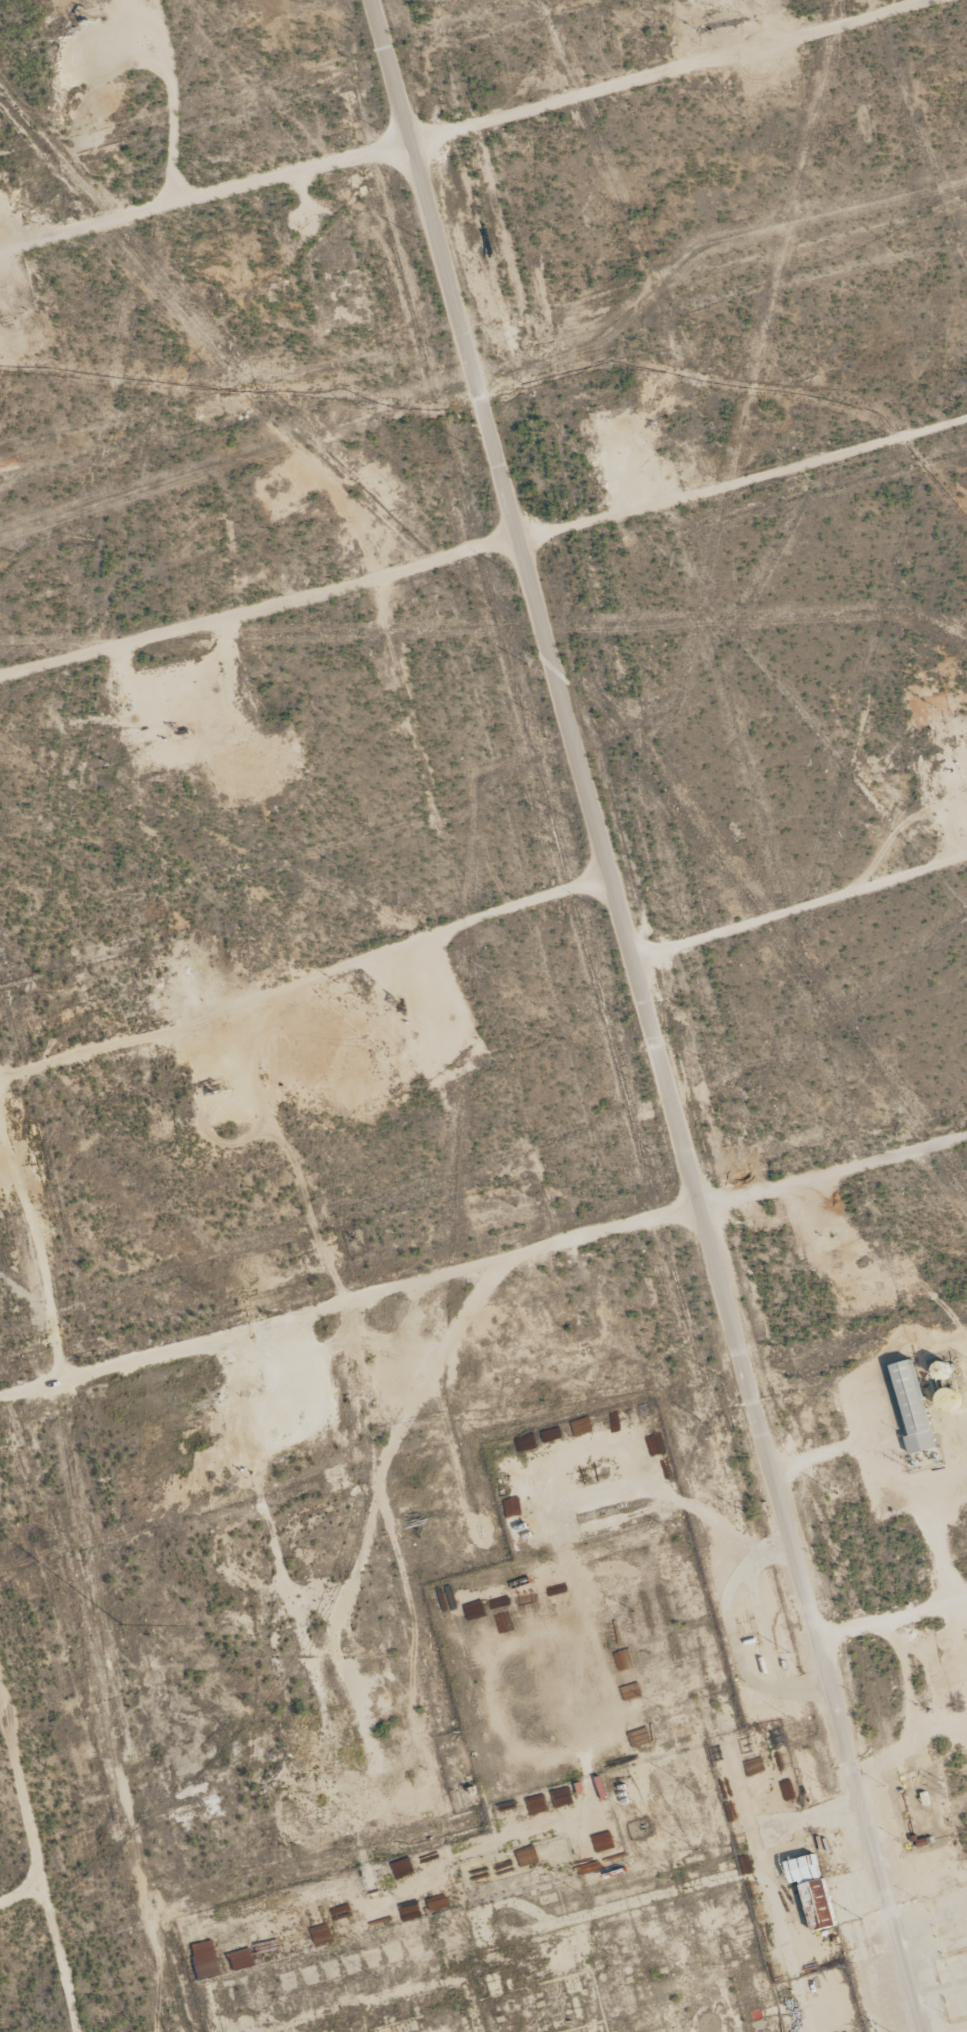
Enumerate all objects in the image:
road: (260, 606)
road: (646, 1015)
road: (49, 1319)
building: (910, 1406)
building: (809, 1890)
road: (935, 1983)

